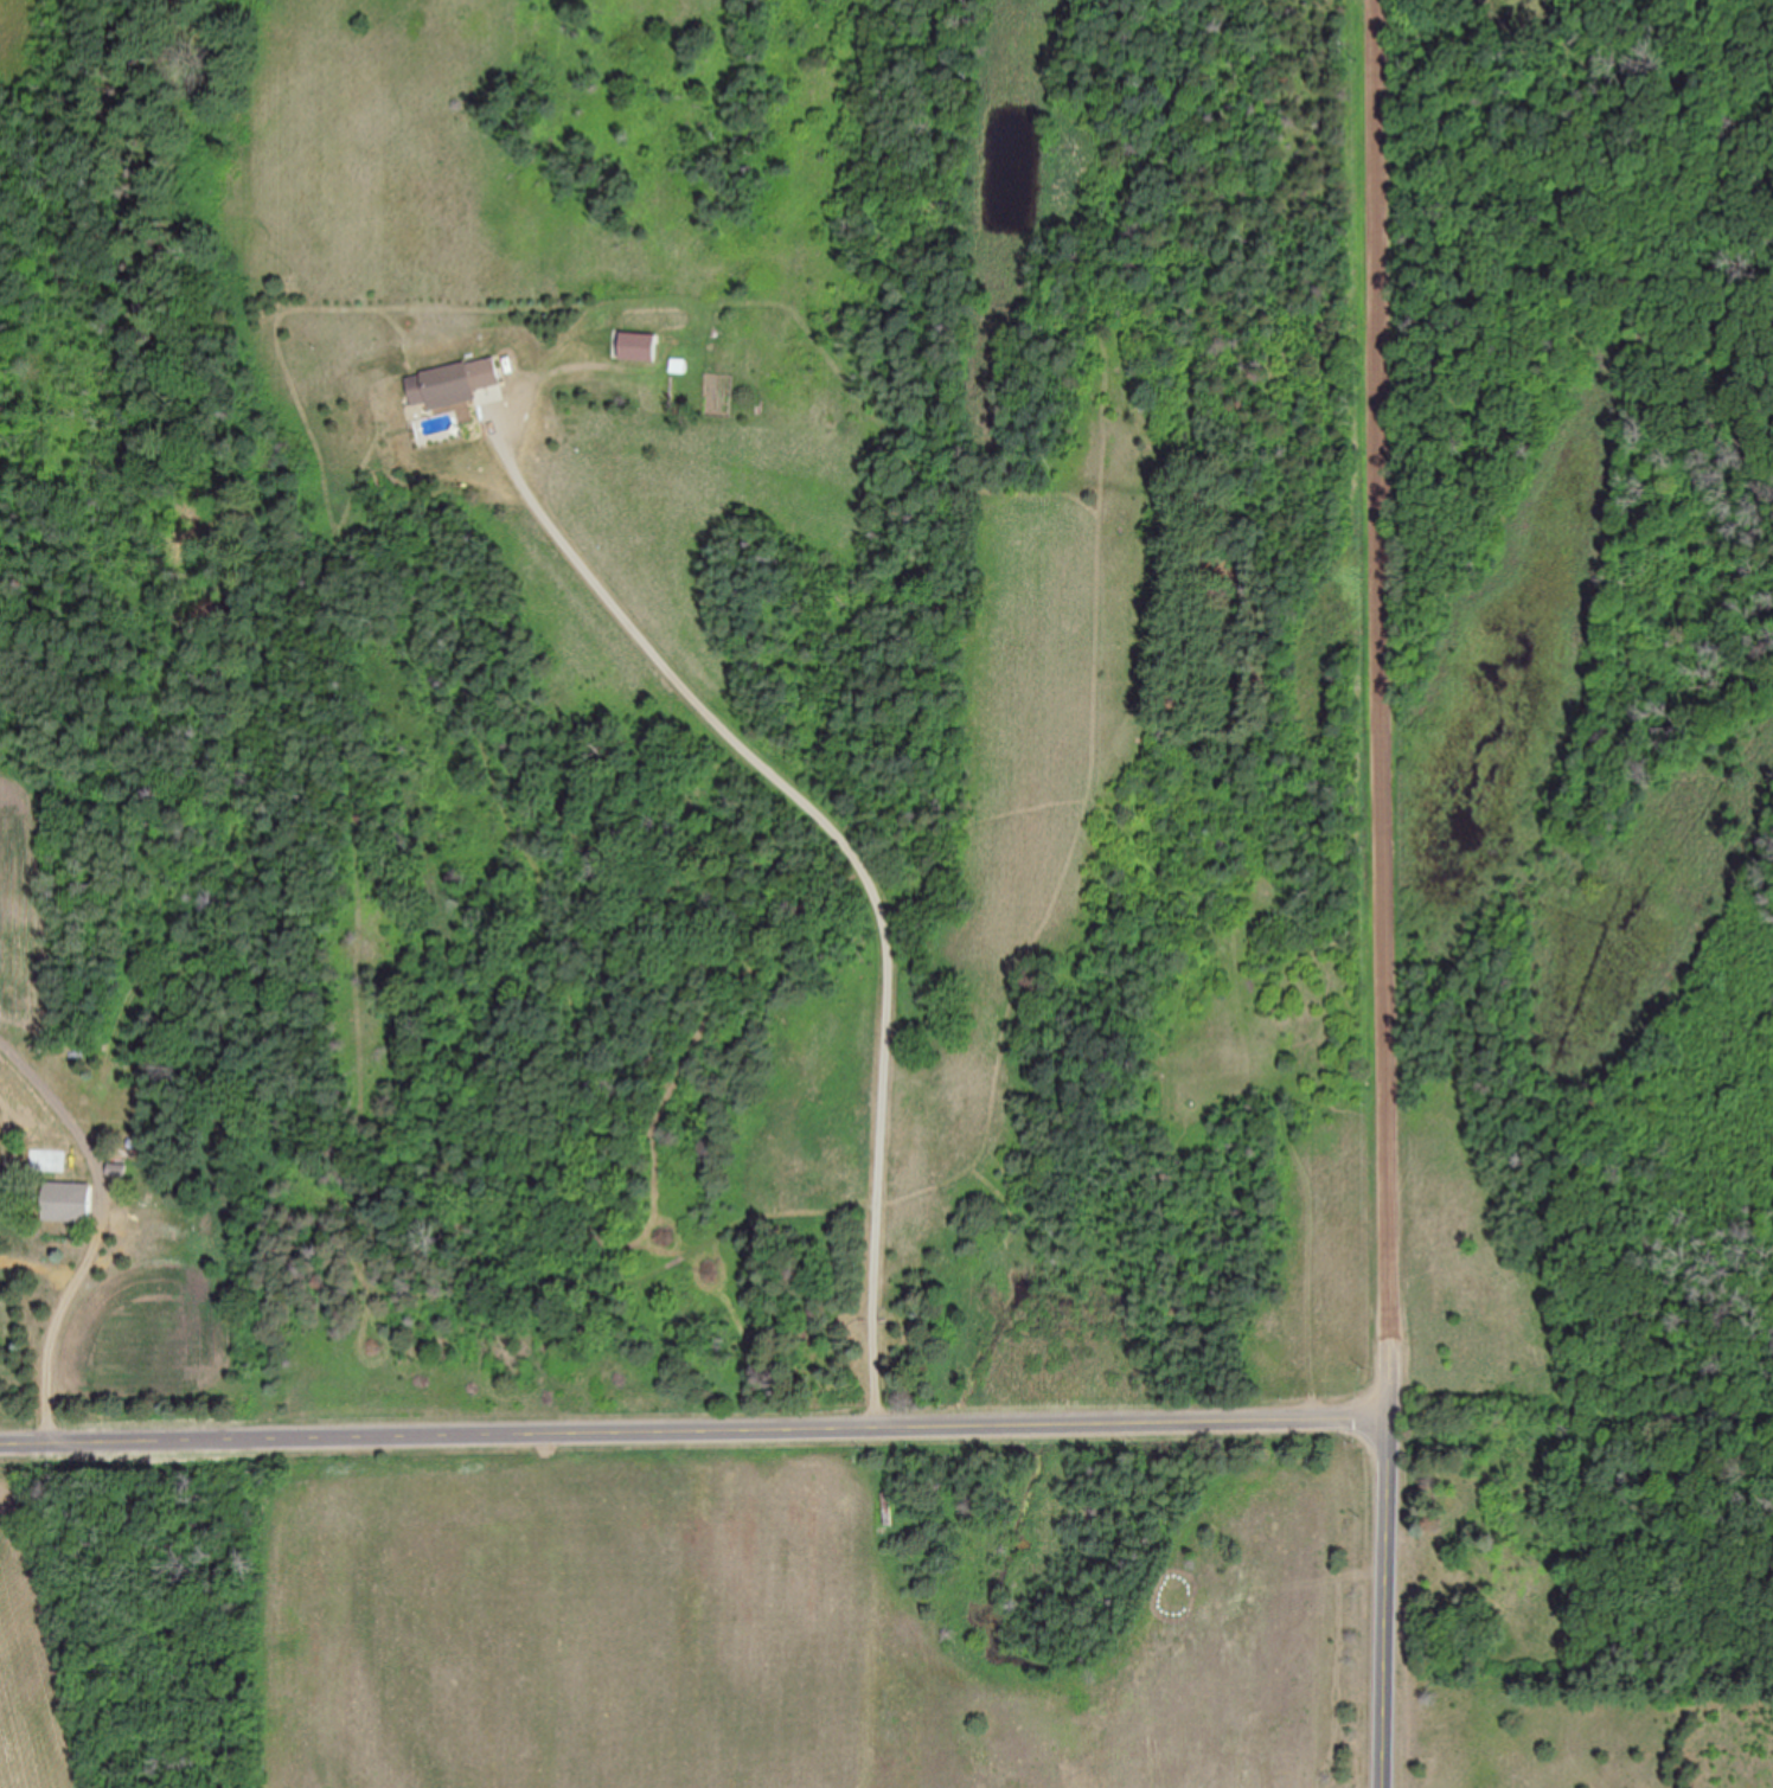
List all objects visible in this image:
building: (638, 348)
building: (454, 384)
road: (1387, 711)
road: (855, 860)
park: (1576, 887)
building: (47, 1162)
building: (117, 1172)
road: (695, 1433)
building: (885, 1510)
road: (1387, 1604)

